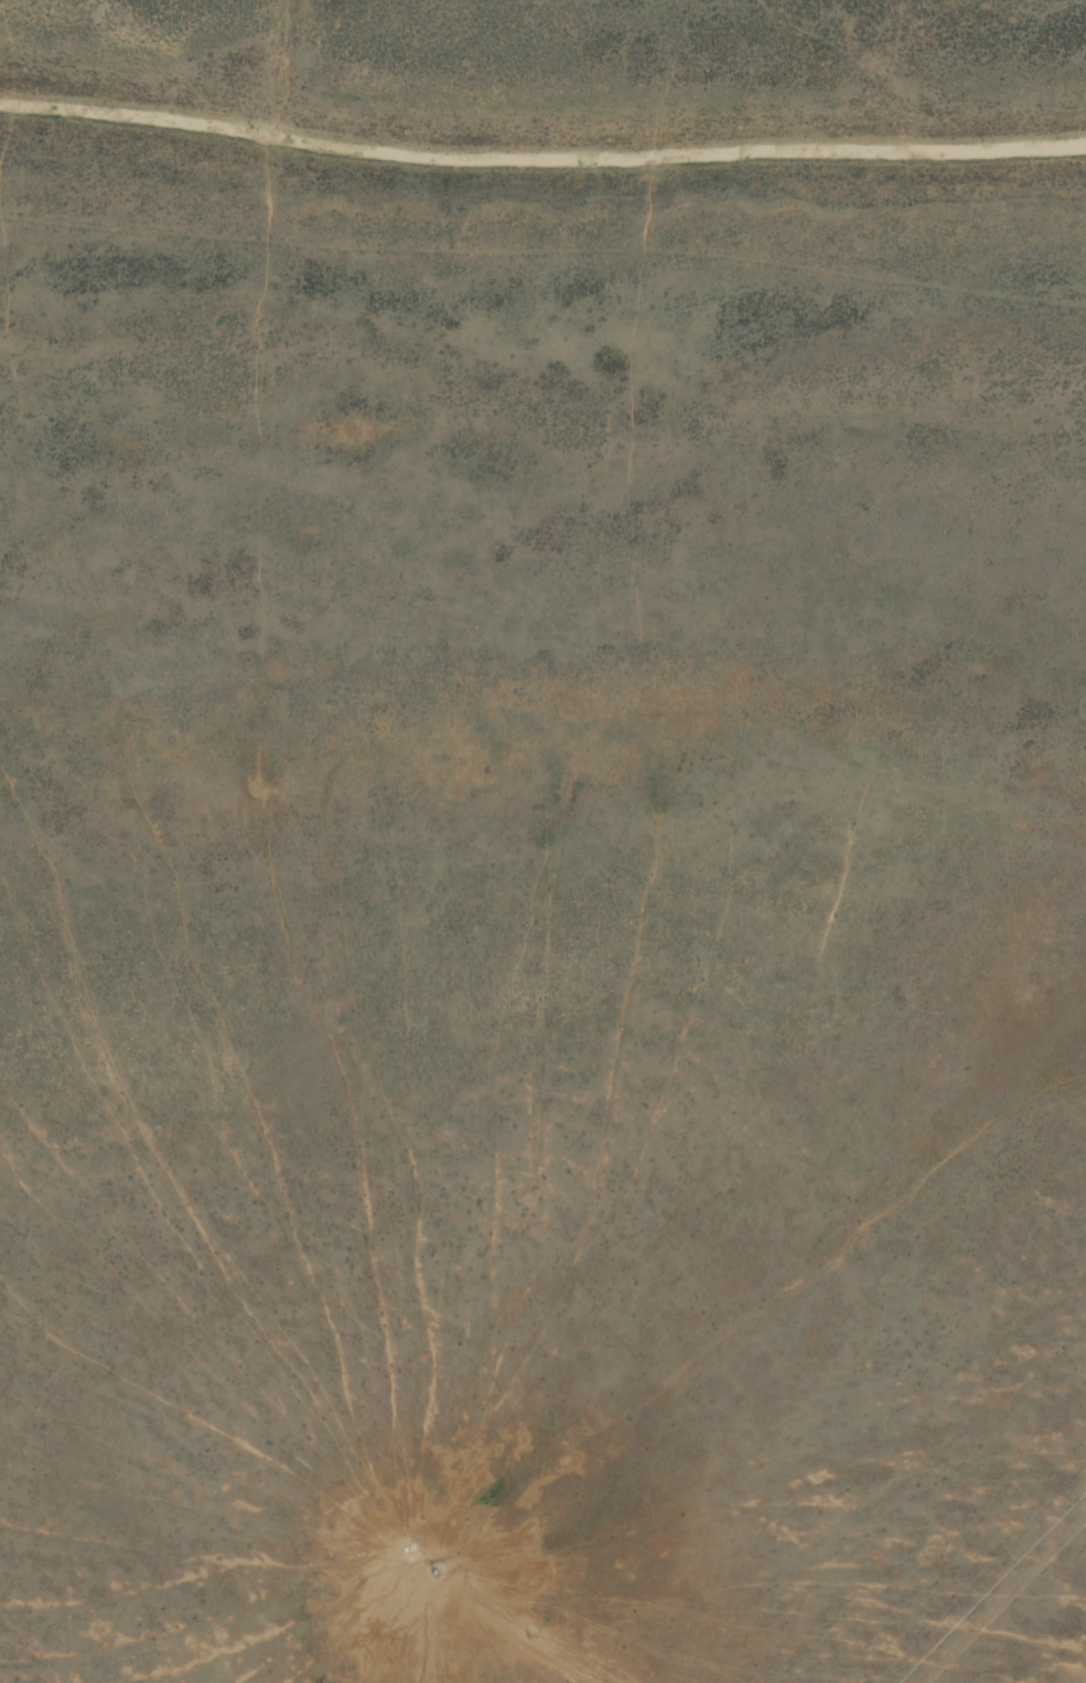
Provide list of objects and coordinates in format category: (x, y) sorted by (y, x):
road: (913, 1545)
road: (1036, 1669)

